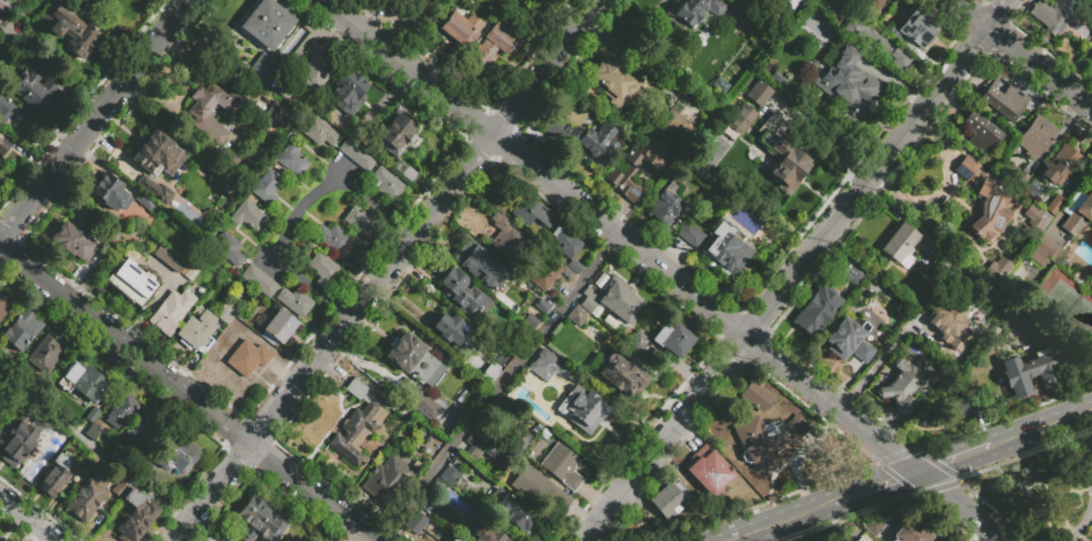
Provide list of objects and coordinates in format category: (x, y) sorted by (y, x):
building: (0, 0)
building: (108, 0)
building: (549, 0)
building: (1084, 0)
building: (390, 1)
building: (836, 2)
building: (515, 5)
building: (872, 5)
building: (0, 7)
building: (691, 11)
building: (1, 12)
building: (1055, 14)
building: (266, 24)
building: (915, 27)
building: (71, 28)
building: (859, 30)
building: (766, 38)
building: (809, 38)
building: (499, 45)
building: (1090, 56)
building: (897, 57)
road: (1020, 57)
building: (262, 66)
building: (317, 70)
building: (778, 77)
building: (615, 82)
building: (847, 84)
building: (348, 91)
building: (35, 93)
building: (759, 93)
building: (1004, 98)
building: (3, 106)
building: (276, 112)
building: (202, 115)
building: (741, 119)
road: (95, 121)
building: (674, 121)
building: (834, 125)
building: (550, 127)
building: (397, 131)
building: (319, 132)
building: (979, 133)
building: (1036, 136)
building: (599, 142)
building: (2, 145)
building: (678, 149)
building: (356, 152)
building: (156, 153)
building: (781, 153)
building: (292, 158)
building: (1059, 165)
building: (967, 168)
building: (631, 169)
road: (345, 174)
building: (711, 179)
building: (1021, 180)
building: (387, 184)
building: (266, 186)
road: (941, 187)
building: (1033, 189)
building: (156, 190)
building: (110, 193)
building: (144, 201)
building: (1055, 205)
building: (990, 207)
building: (664, 208)
road: (298, 212)
building: (1078, 212)
building: (247, 214)
building: (532, 214)
building: (1036, 217)
building: (361, 220)
building: (119, 222)
building: (690, 233)
building: (331, 237)
road: (619, 237)
building: (507, 238)
building: (73, 241)
building: (563, 242)
building: (900, 245)
building: (228, 248)
building: (725, 248)
building: (1043, 249)
building: (168, 259)
road: (777, 263)
building: (480, 266)
building: (574, 266)
road: (796, 267)
building: (997, 268)
building: (323, 269)
road: (274, 270)
road: (388, 270)
road: (814, 272)
building: (548, 273)
building: (852, 274)
building: (943, 278)
building: (132, 279)
building: (258, 280)
building: (463, 293)
building: (514, 294)
building: (589, 299)
building: (294, 302)
building: (620, 302)
building: (886, 303)
building: (3, 306)
building: (542, 306)
building: (171, 310)
building: (817, 311)
building: (226, 312)
building: (577, 316)
building: (1010, 318)
building: (950, 321)
building: (279, 325)
building: (449, 329)
building: (196, 330)
building: (21, 331)
building: (603, 337)
building: (845, 337)
building: (674, 340)
building: (636, 345)
building: (864, 353)
building: (45, 355)
building: (247, 357)
building: (413, 358)
road: (875, 362)
building: (547, 365)
building: (1029, 371)
building: (490, 373)
building: (622, 376)
building: (85, 380)
building: (905, 385)
road: (498, 389)
road: (185, 394)
building: (757, 396)
building: (423, 401)
building: (453, 407)
building: (582, 408)
building: (123, 411)
building: (93, 415)
building: (948, 415)
building: (357, 423)
road: (1044, 427)
building: (148, 428)
building: (92, 431)
building: (769, 438)
building: (17, 443)
building: (469, 444)
road: (94, 450)
building: (177, 454)
road: (969, 455)
building: (562, 465)
building: (708, 468)
road: (927, 469)
traffic signals: (915, 474)
building: (447, 476)
building: (56, 477)
road: (902, 478)
building: (388, 481)
building: (119, 488)
building: (740, 488)
building: (535, 489)
road: (858, 494)
building: (86, 497)
building: (669, 499)
road: (956, 507)
building: (513, 514)
building: (135, 516)
road: (28, 518)
road: (1083, 519)
building: (258, 520)
building: (415, 522)
road: (776, 522)
building: (873, 526)
building: (915, 530)
road: (580, 532)
building: (487, 533)
road: (1085, 533)
road: (565, 534)
road: (1080, 536)
building: (451, 538)
building: (859, 539)
building: (2, 540)

